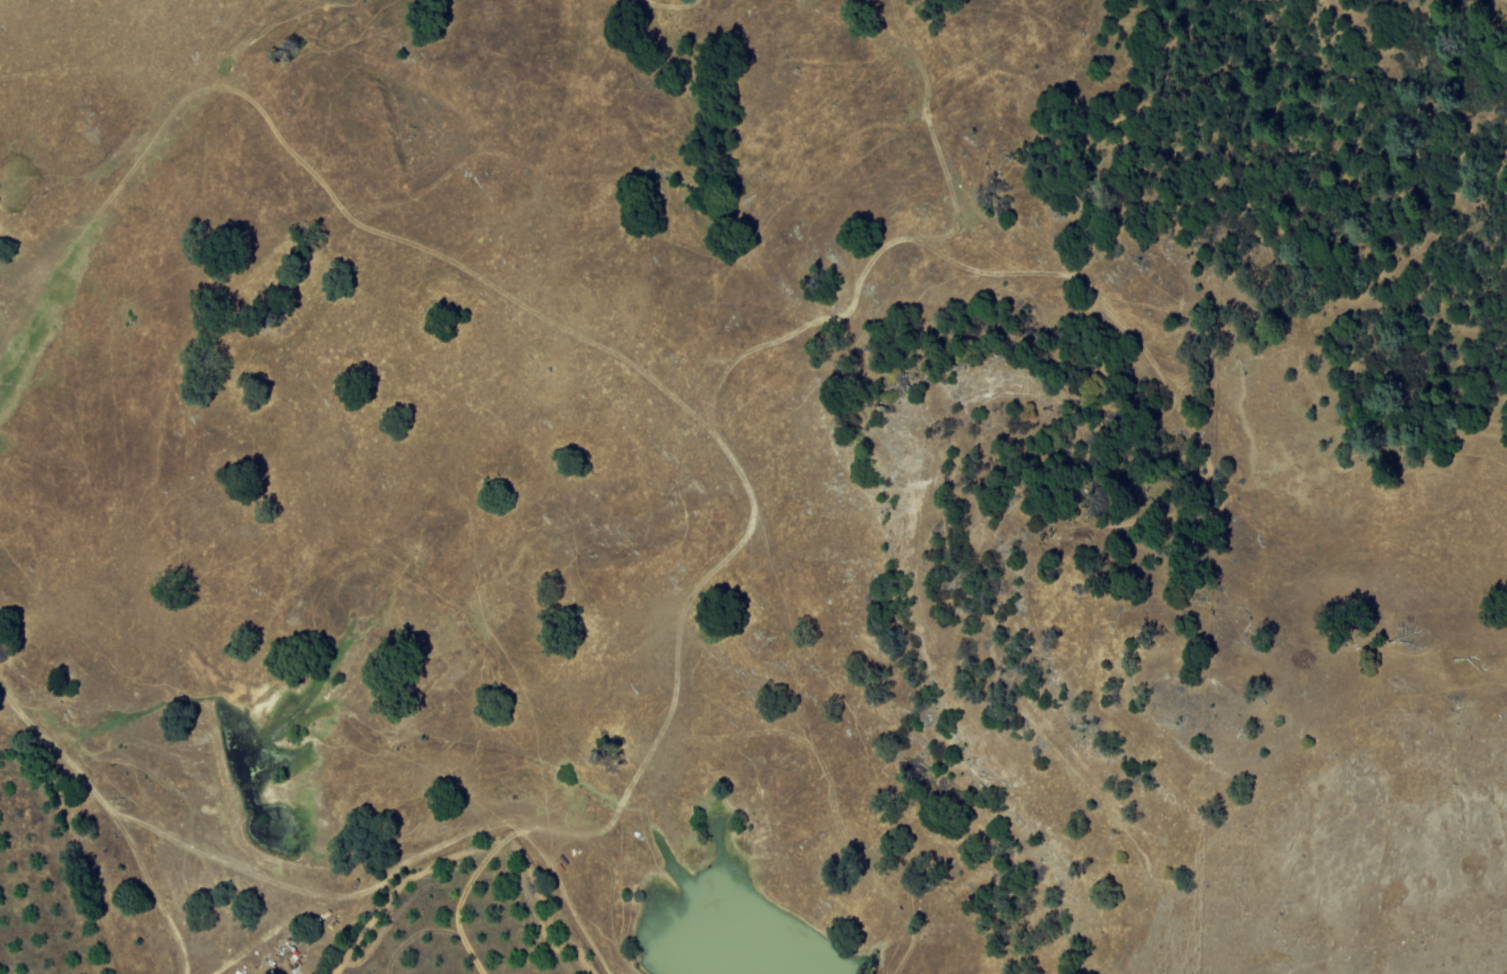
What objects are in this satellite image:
road: (437, 849)

